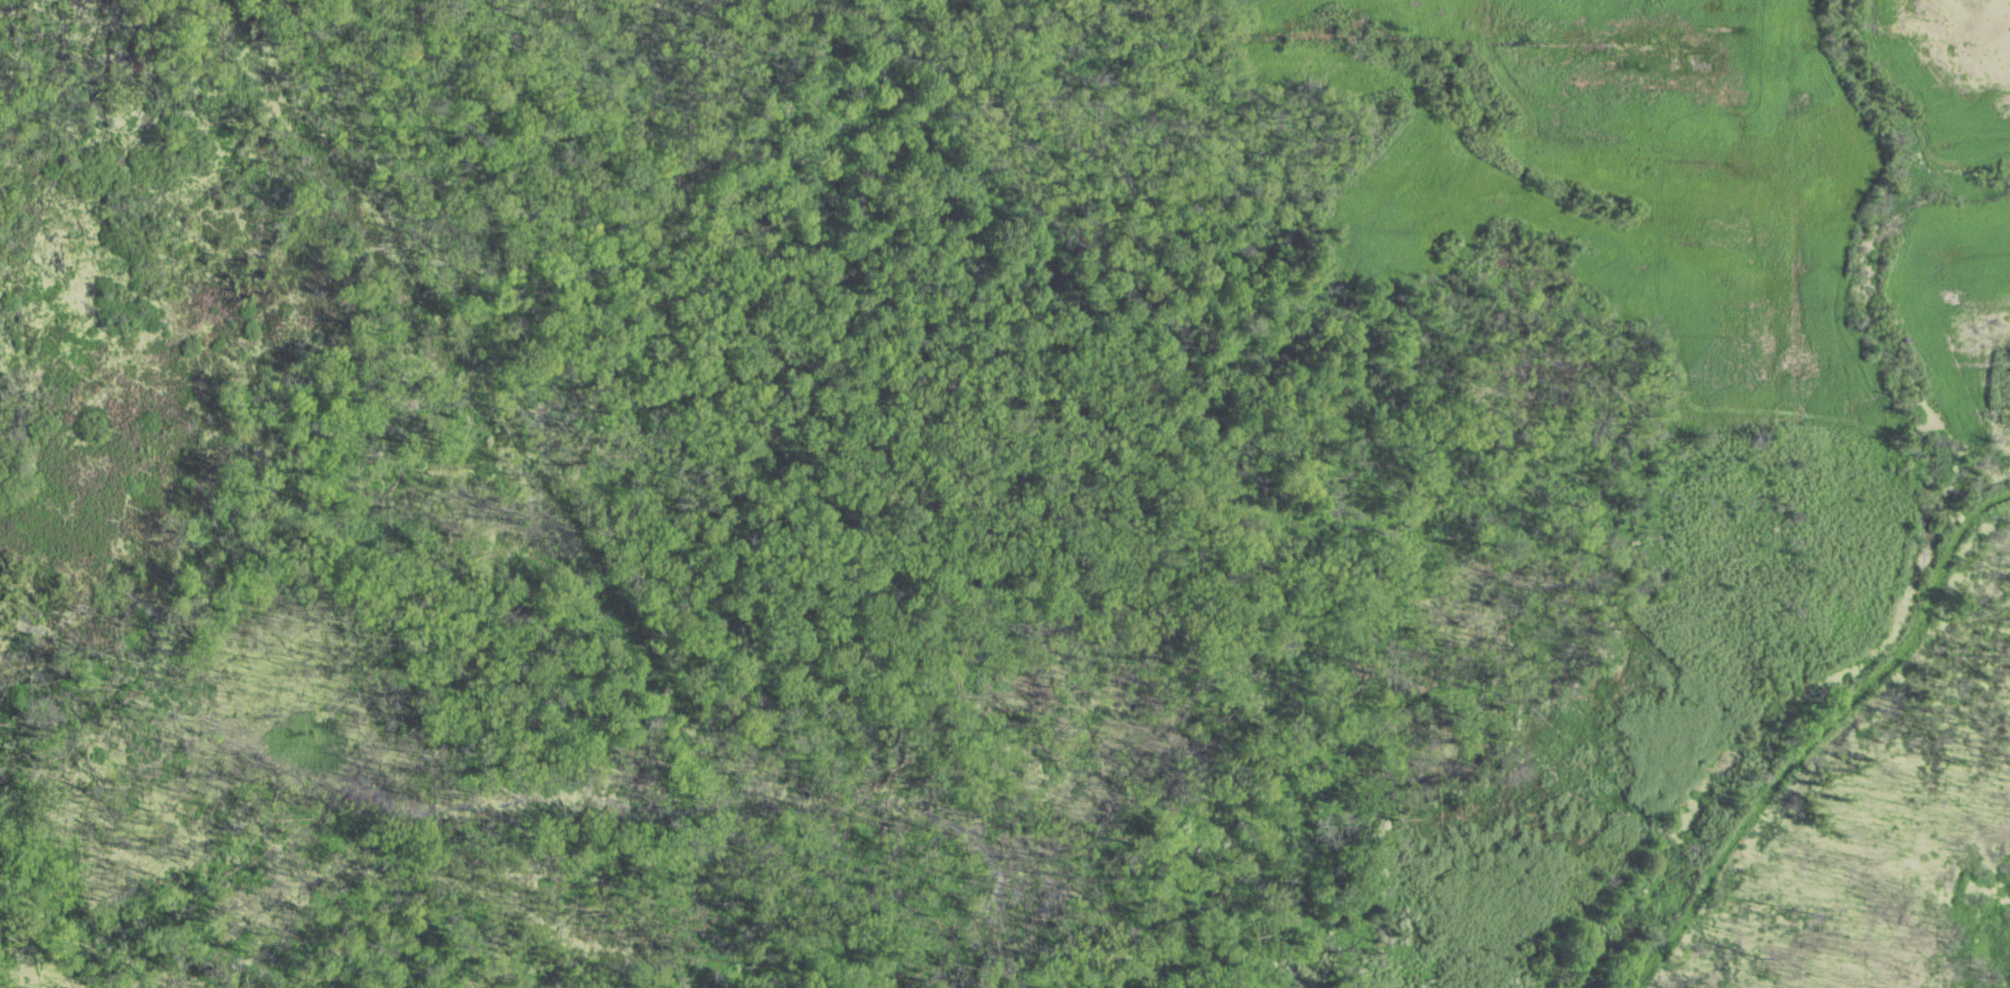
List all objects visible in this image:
road: (1821, 745)

